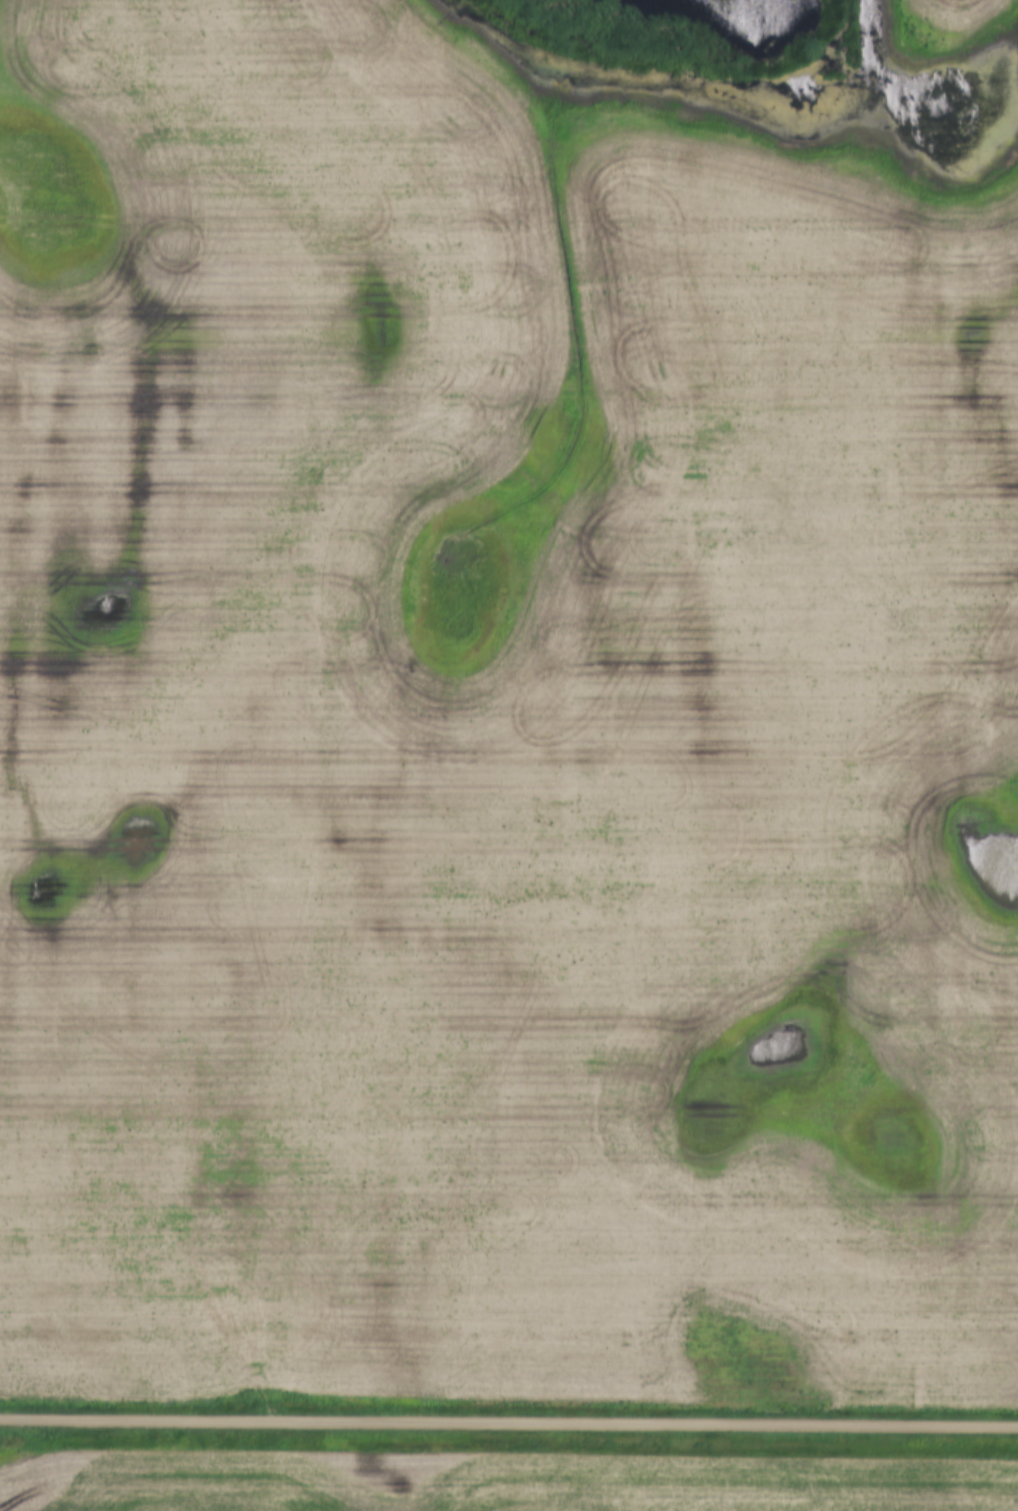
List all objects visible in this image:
road: (509, 1430)

